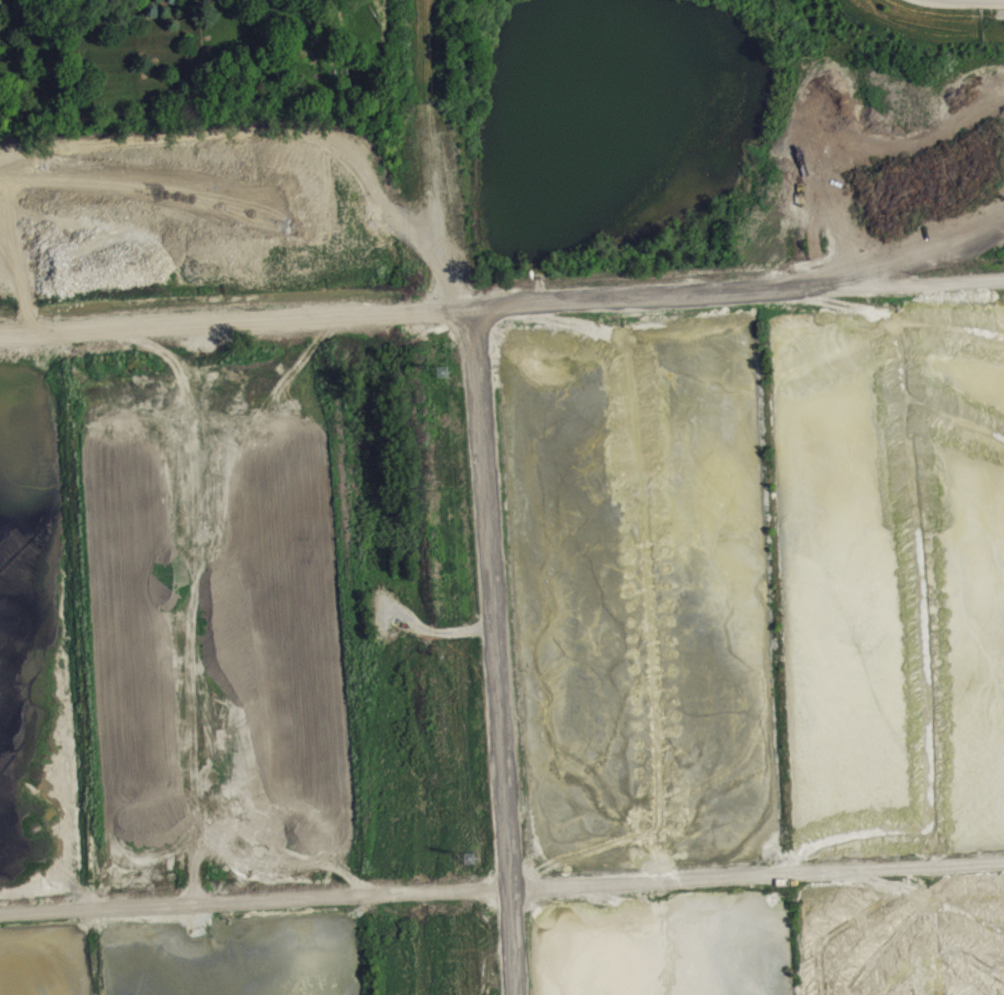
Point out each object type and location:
road: (879, 268)
road: (878, 284)
road: (509, 301)
power tower: (441, 370)
road: (494, 649)
power tower: (467, 856)
road: (502, 887)

